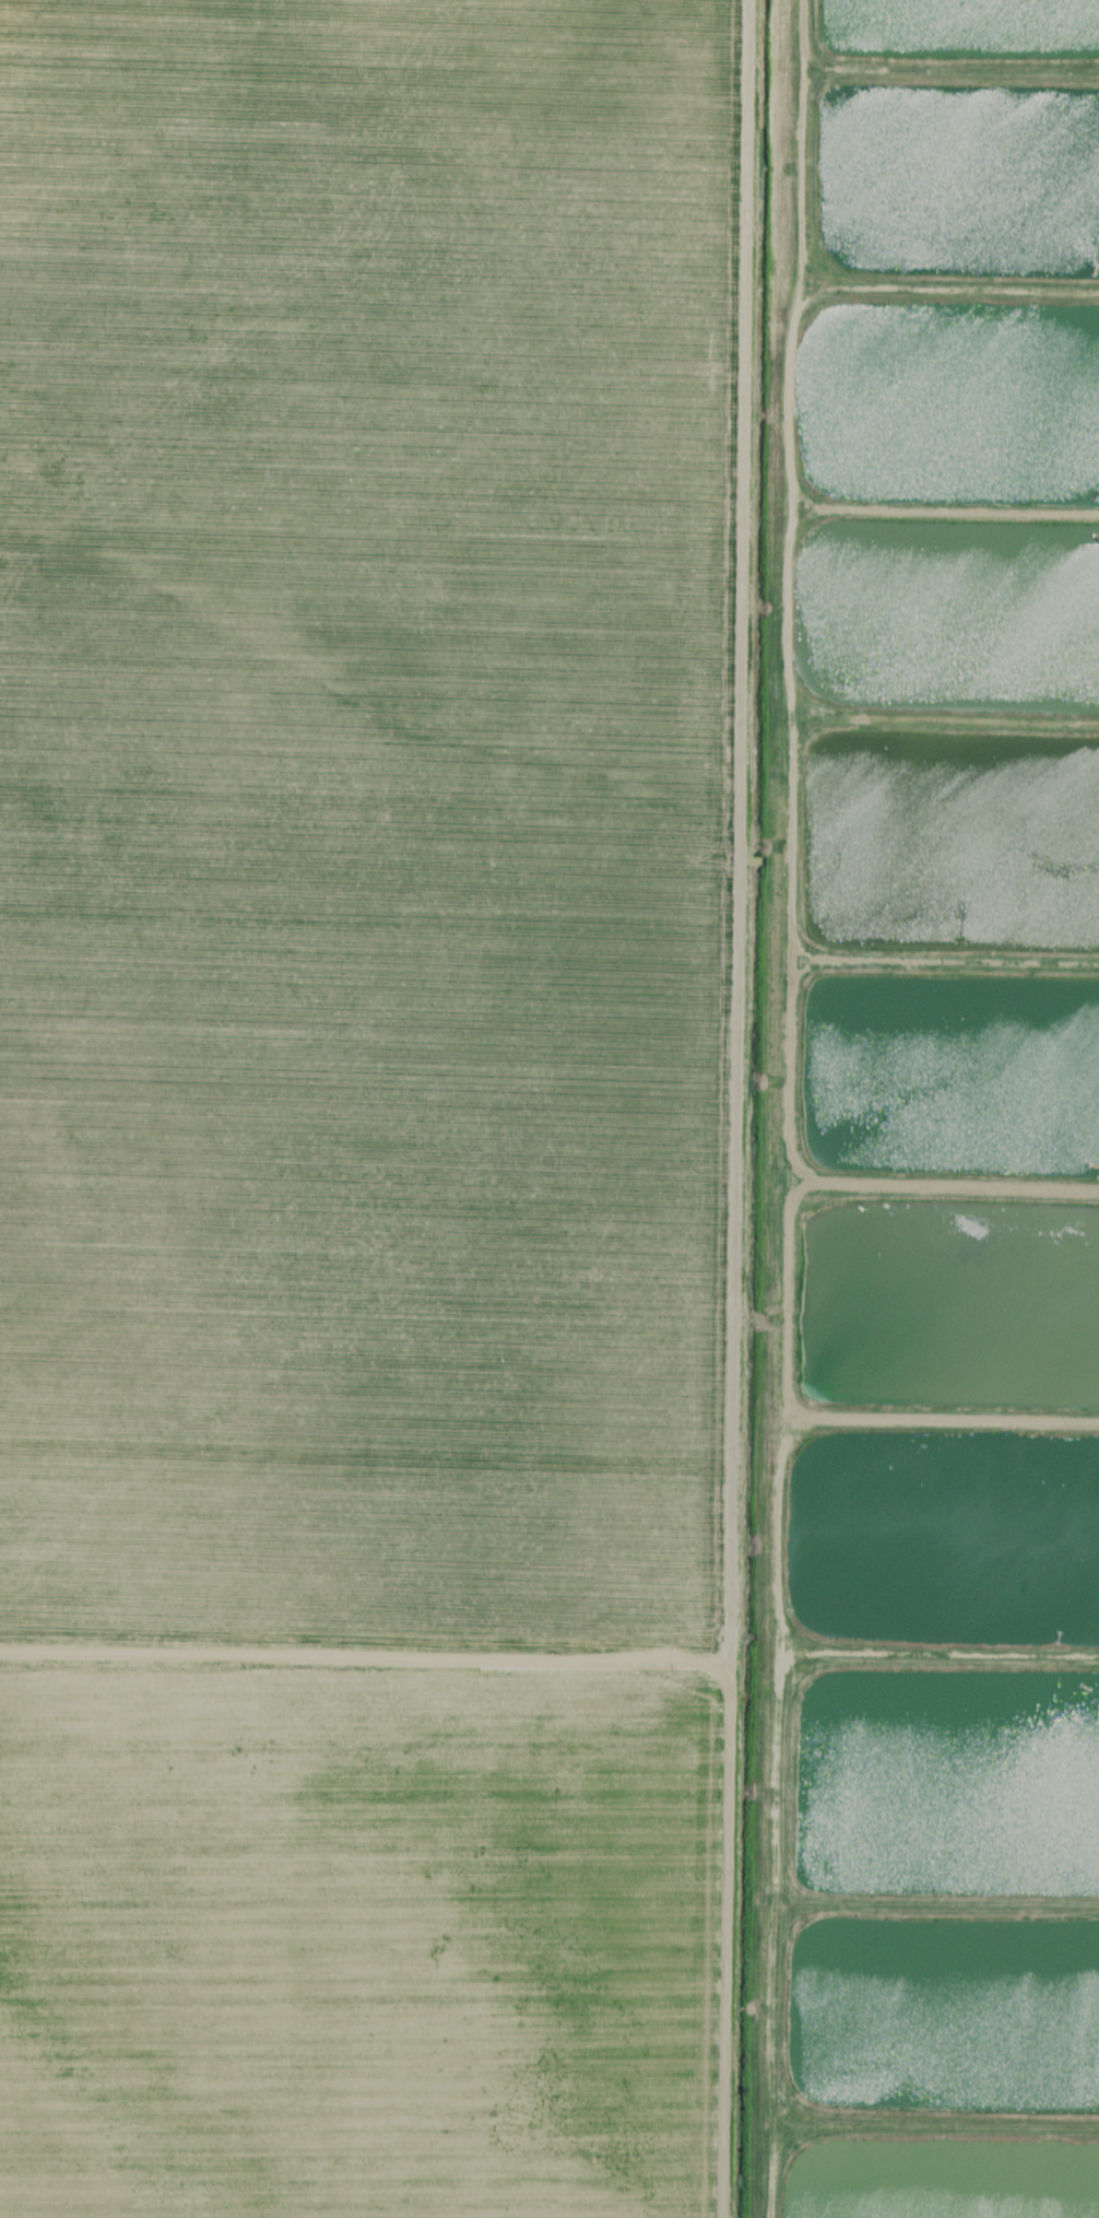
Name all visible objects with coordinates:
road: (778, 1110)

